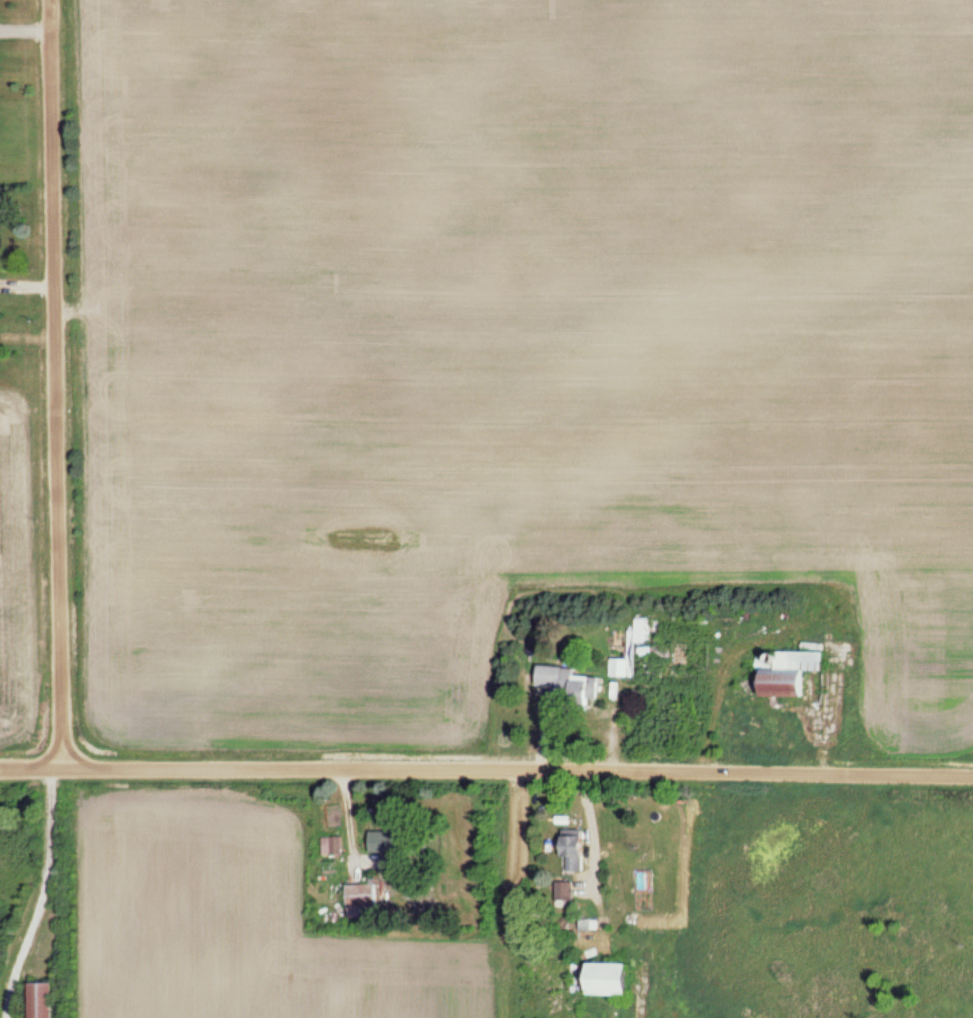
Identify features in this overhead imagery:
road: (58, 384)
building: (620, 668)
building: (782, 672)
building: (565, 686)
road: (486, 764)
building: (388, 842)
building: (331, 846)
building: (571, 851)
building: (563, 891)
building: (360, 900)
building: (597, 979)
building: (38, 999)

